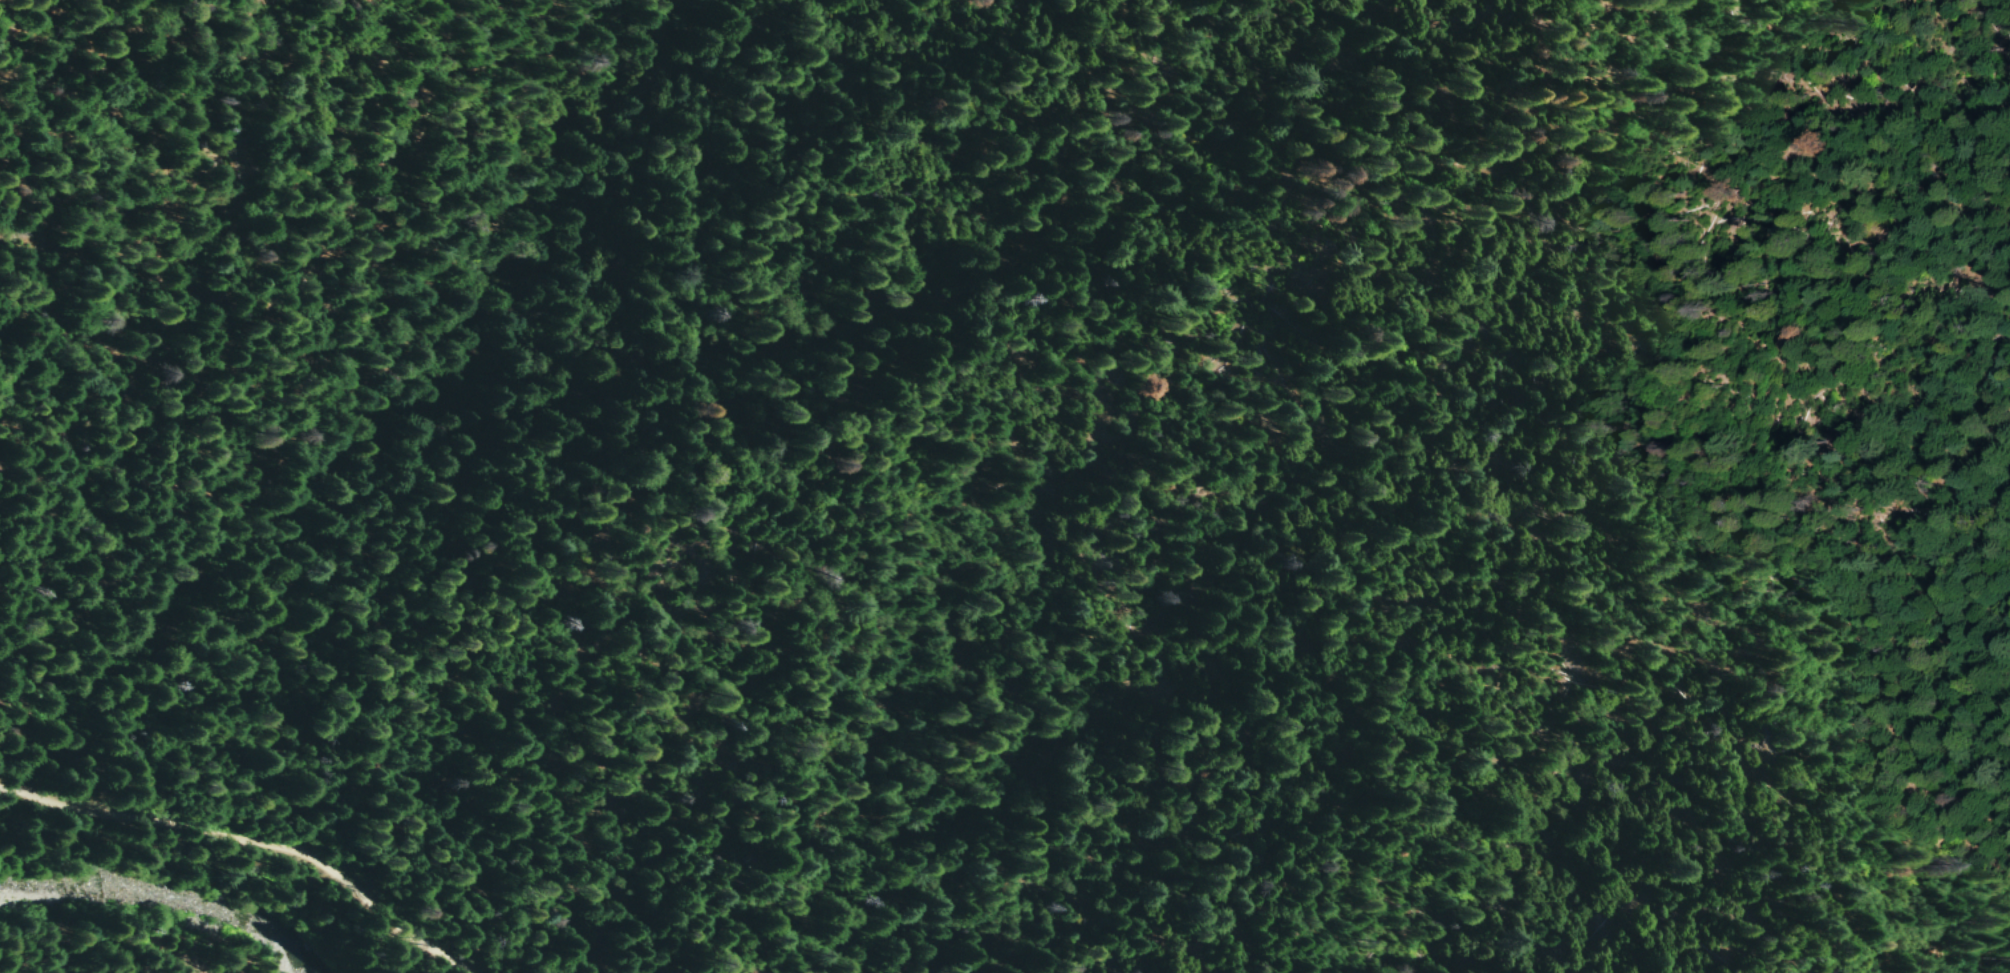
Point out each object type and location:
road: (248, 843)
river: (159, 898)

